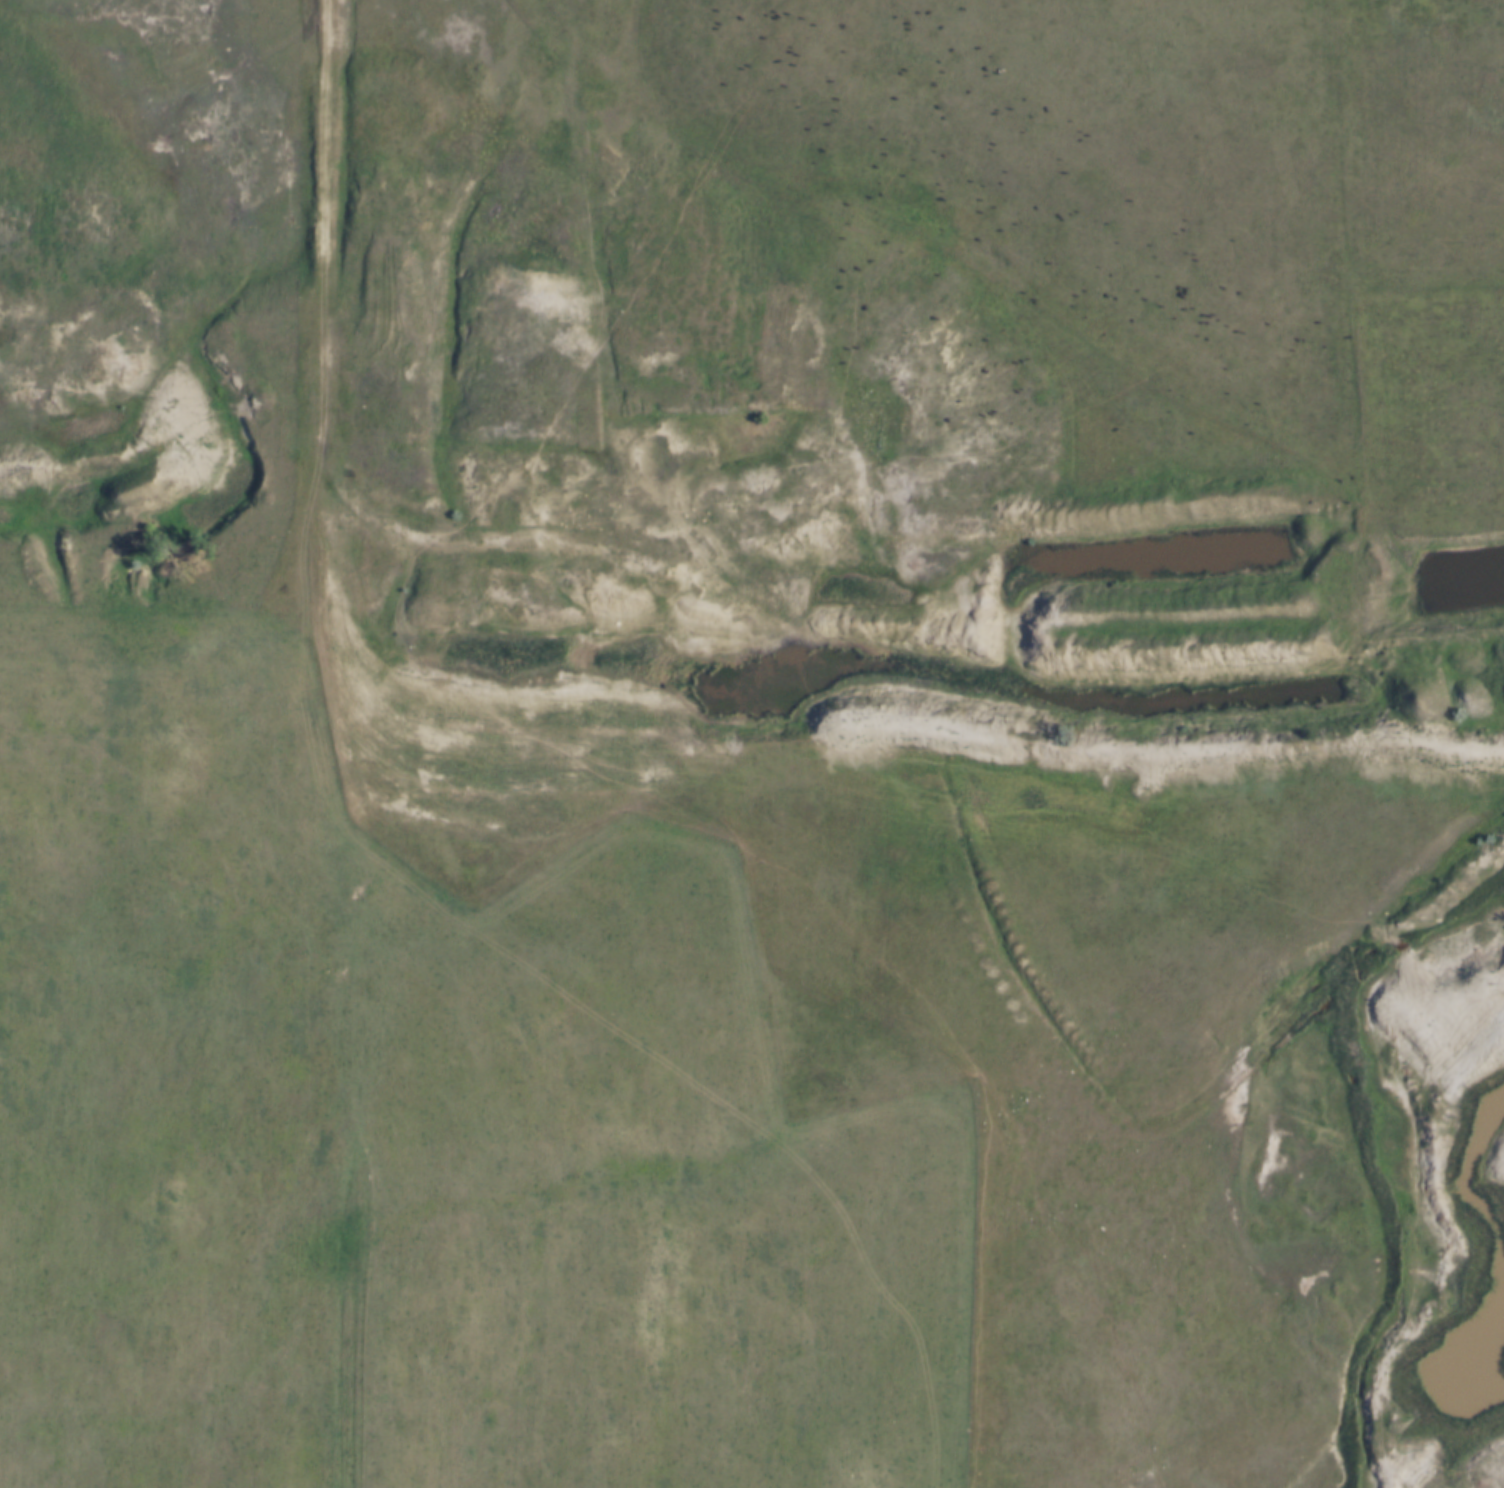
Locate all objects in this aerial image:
road: (324, 371)
quarry: (671, 558)
quarry: (1425, 1177)

